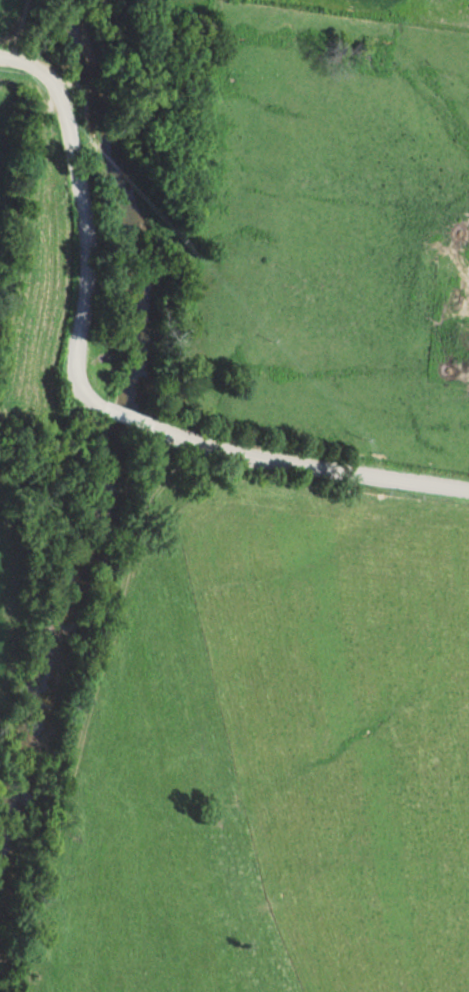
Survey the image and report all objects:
road: (118, 450)

